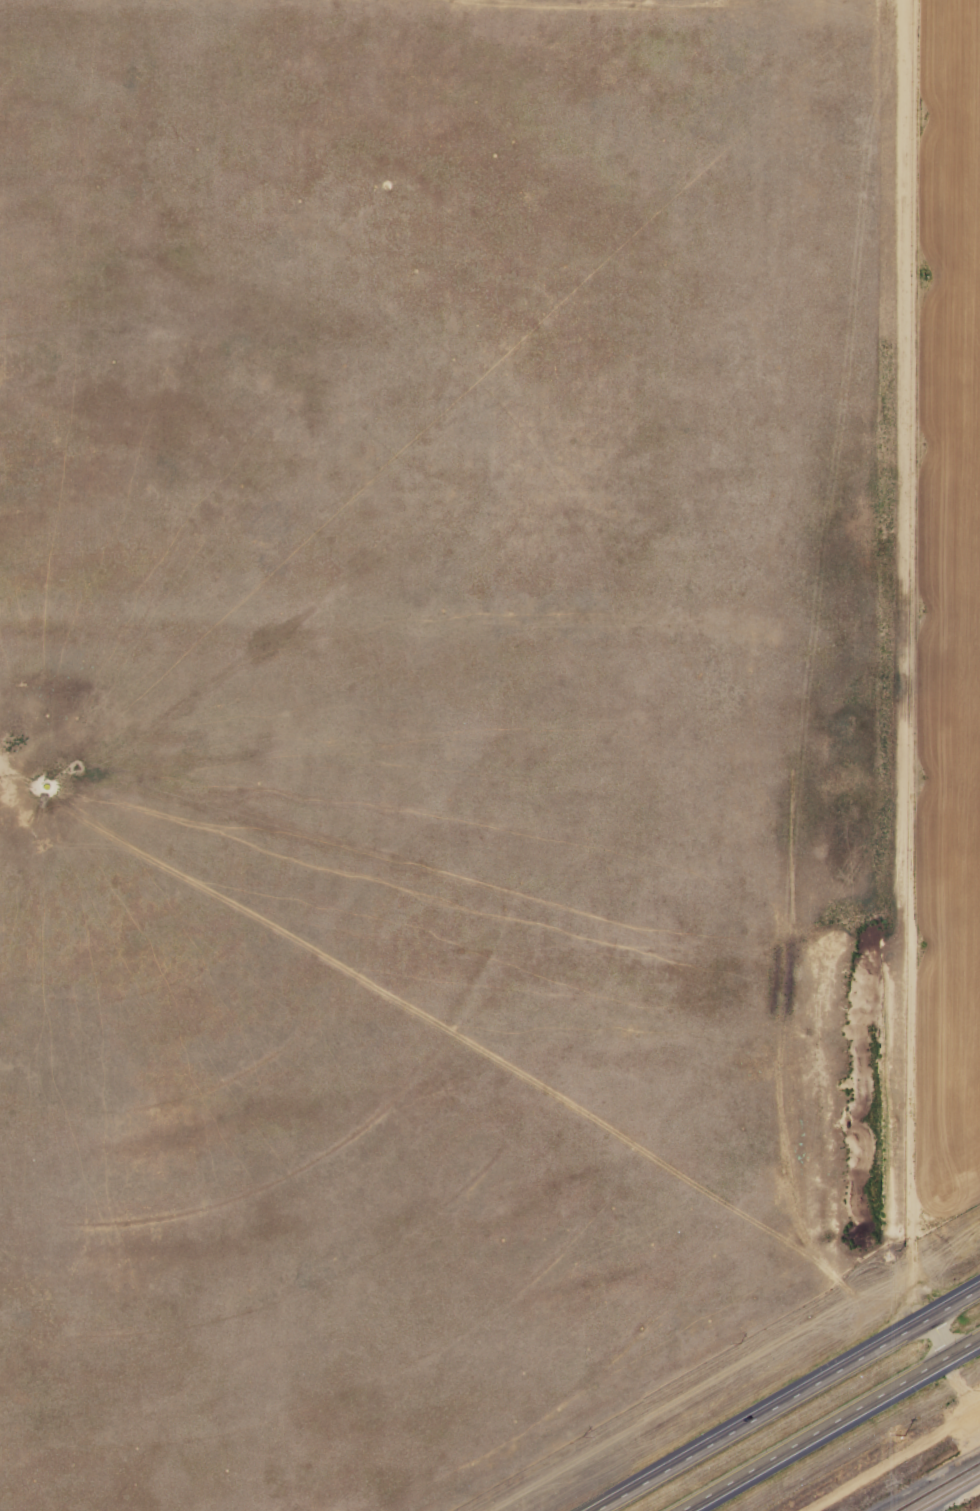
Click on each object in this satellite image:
road: (795, 1404)
road: (840, 1430)
railway: (940, 1488)
railway: (951, 1494)

